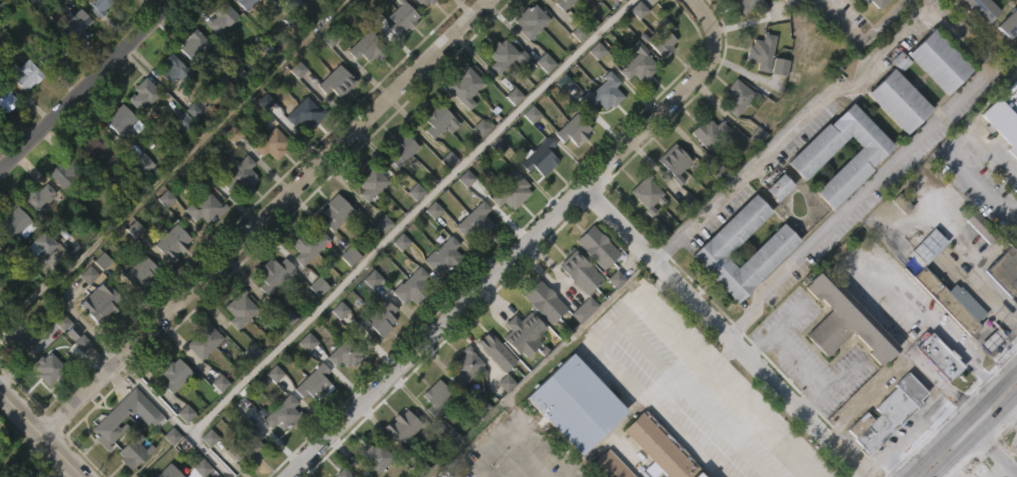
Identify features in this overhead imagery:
building: (583, 0)
building: (818, 0)
building: (342, 1)
building: (465, 1)
building: (860, 1)
building: (422, 2)
building: (880, 2)
building: (560, 3)
building: (247, 5)
building: (277, 7)
building: (750, 7)
building: (98, 8)
building: (985, 8)
road: (698, 10)
building: (218, 17)
building: (402, 18)
building: (846, 18)
building: (71, 19)
building: (528, 21)
building: (421, 24)
building: (565, 24)
building: (1008, 24)
building: (615, 26)
building: (245, 29)
building: (97, 35)
building: (745, 35)
road: (953, 35)
building: (969, 35)
building: (660, 37)
road: (860, 42)
building: (195, 46)
building: (365, 48)
building: (759, 51)
building: (52, 52)
building: (217, 54)
building: (398, 55)
building: (501, 55)
building: (526, 56)
building: (72, 59)
building: (940, 59)
building: (636, 63)
building: (173, 70)
building: (21, 72)
building: (190, 81)
building: (334, 81)
building: (597, 82)
road: (85, 83)
building: (362, 84)
building: (462, 87)
building: (51, 88)
building: (757, 88)
building: (499, 90)
building: (141, 93)
building: (604, 94)
building: (736, 97)
building: (934, 97)
building: (540, 98)
building: (635, 98)
building: (6, 99)
building: (899, 99)
building: (775, 102)
building: (168, 105)
building: (22, 109)
building: (300, 113)
building: (1004, 116)
building: (333, 118)
building: (125, 120)
building: (440, 121)
building: (460, 122)
building: (574, 129)
building: (600, 129)
building: (139, 130)
building: (509, 131)
building: (707, 133)
building: (733, 134)
building: (4, 136)
building: (893, 136)
building: (270, 144)
building: (94, 145)
building: (189, 146)
building: (402, 148)
building: (527, 149)
building: (301, 150)
building: (814, 153)
building: (116, 155)
building: (434, 155)
building: (541, 156)
road: (996, 156)
building: (177, 157)
building: (674, 159)
building: (1001, 161)
road: (171, 164)
building: (569, 166)
building: (706, 168)
building: (65, 172)
building: (237, 174)
road: (967, 176)
building: (368, 180)
building: (87, 182)
building: (265, 182)
building: (396, 185)
building: (780, 186)
building: (511, 190)
building: (863, 190)
building: (645, 191)
building: (536, 193)
building: (40, 196)
building: (670, 197)
building: (140, 198)
building: (202, 207)
building: (58, 209)
building: (238, 210)
building: (333, 211)
road: (266, 217)
road: (408, 217)
building: (365, 219)
building: (473, 219)
building: (18, 222)
building: (773, 222)
building: (980, 226)
building: (507, 227)
building: (644, 230)
building: (34, 233)
building: (1, 238)
building: (1014, 239)
building: (170, 241)
building: (201, 242)
building: (44, 243)
building: (305, 244)
building: (598, 246)
building: (928, 246)
building: (332, 248)
building: (715, 248)
building: (2, 252)
building: (444, 255)
road: (513, 255)
building: (470, 258)
building: (379, 259)
building: (975, 262)
building: (141, 270)
building: (1003, 270)
building: (580, 271)
building: (270, 273)
building: (169, 278)
building: (36, 281)
building: (769, 283)
building: (922, 283)
building: (413, 286)
building: (345, 291)
building: (439, 292)
building: (951, 300)
building: (104, 301)
building: (544, 301)
building: (1003, 302)
building: (135, 306)
building: (575, 307)
building: (237, 308)
building: (269, 309)
building: (611, 314)
building: (376, 318)
road: (664, 319)
building: (841, 319)
building: (313, 321)
building: (409, 321)
road: (722, 332)
building: (520, 333)
building: (947, 336)
building: (19, 337)
building: (539, 337)
building: (95, 339)
building: (201, 339)
building: (579, 345)
building: (235, 346)
building: (494, 350)
building: (346, 352)
building: (283, 353)
building: (375, 354)
building: (936, 355)
building: (839, 357)
building: (464, 364)
road: (894, 365)
building: (51, 368)
road: (805, 368)
building: (519, 369)
building: (14, 373)
building: (74, 373)
building: (173, 374)
building: (986, 375)
building: (199, 376)
building: (311, 381)
building: (248, 386)
building: (492, 387)
building: (341, 390)
building: (934, 391)
building: (435, 396)
building: (462, 401)
building: (45, 404)
building: (577, 404)
building: (171, 409)
road: (754, 409)
building: (281, 412)
building: (885, 413)
road: (1010, 415)
building: (309, 417)
building: (501, 418)
building: (119, 419)
road: (174, 419)
road: (959, 421)
building: (399, 425)
road: (910, 428)
building: (433, 432)
road: (42, 434)
building: (570, 437)
road: (975, 437)
road: (990, 445)
building: (246, 446)
building: (657, 446)
building: (884, 446)
building: (181, 448)
building: (278, 449)
parking lot: (740, 449)
building: (131, 451)
road: (884, 453)
building: (374, 456)
building: (399, 460)
building: (608, 465)
road: (996, 469)
building: (165, 471)
building: (206, 471)
building: (251, 471)
building: (340, 472)
building: (23, 473)
road: (933, 476)

